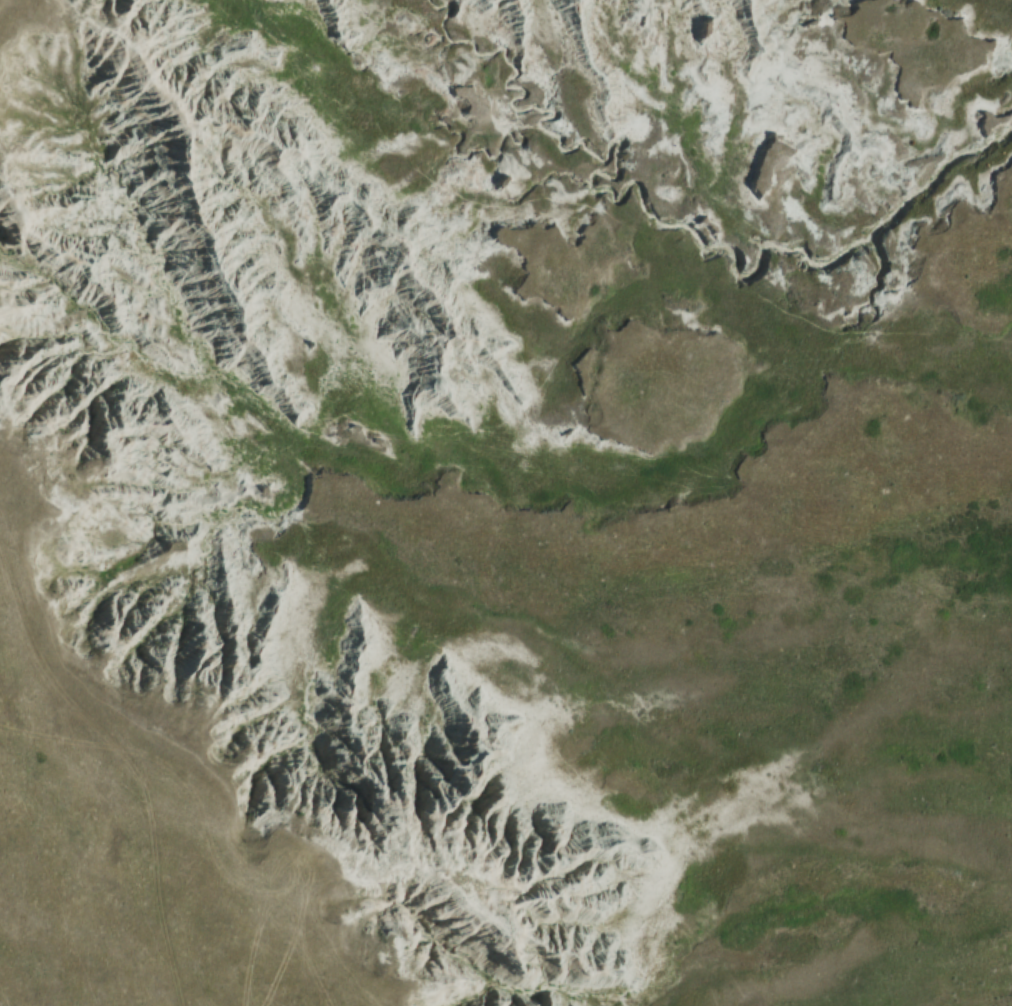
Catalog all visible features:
road: (136, 772)

